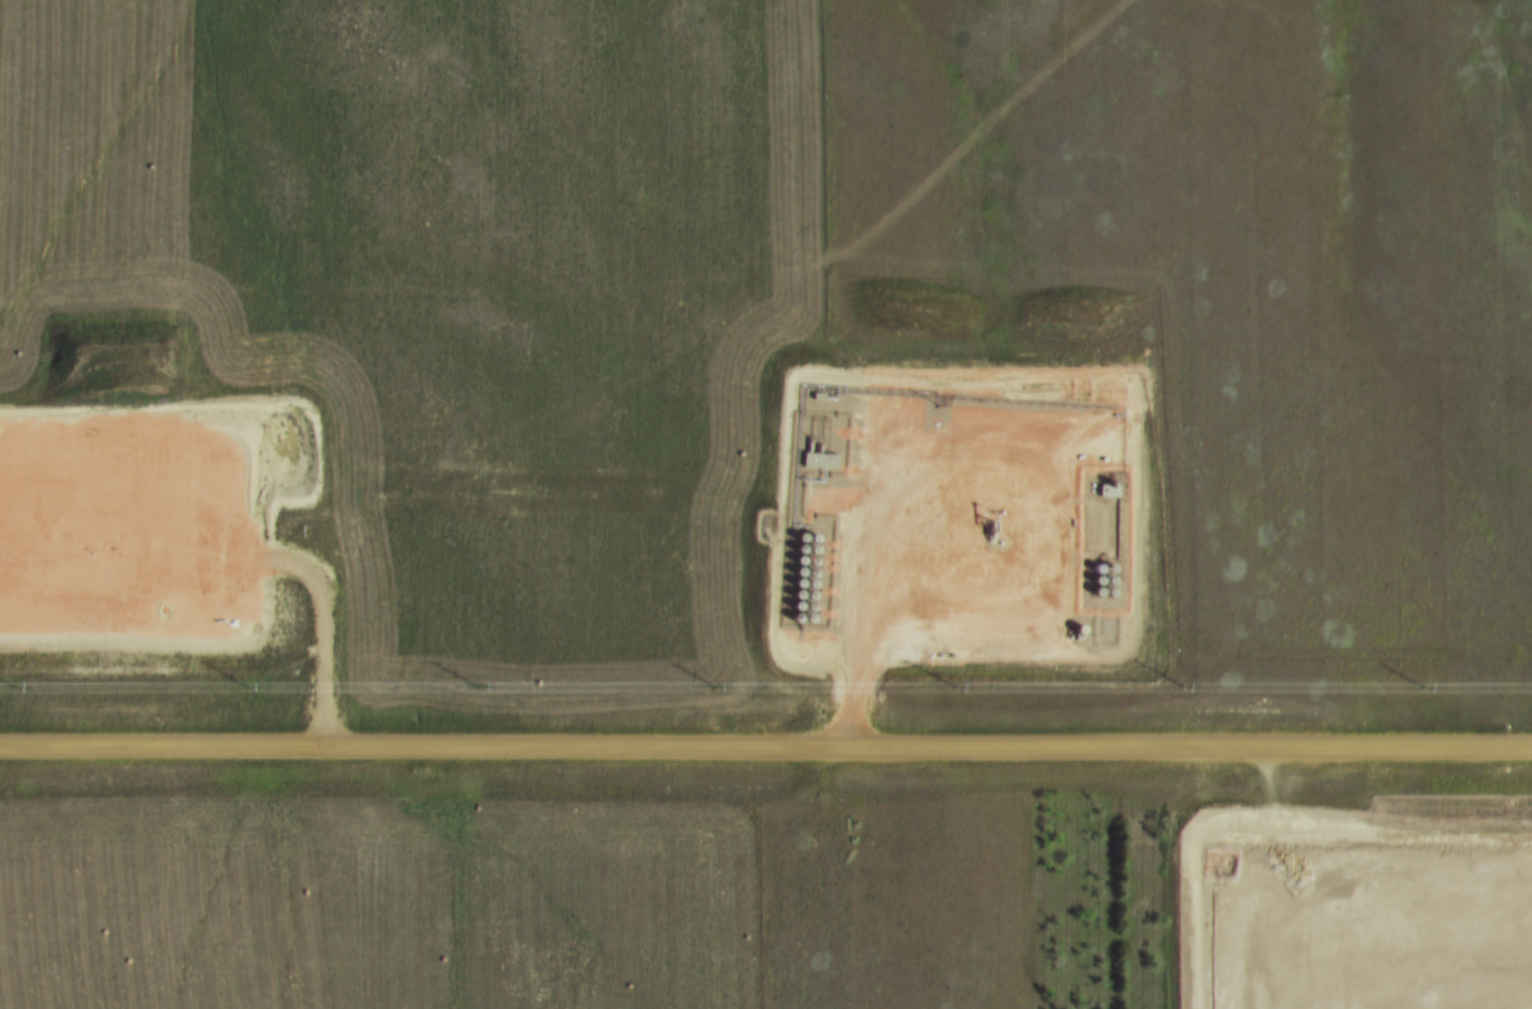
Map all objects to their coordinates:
road: (246, 549)
road: (766, 751)

